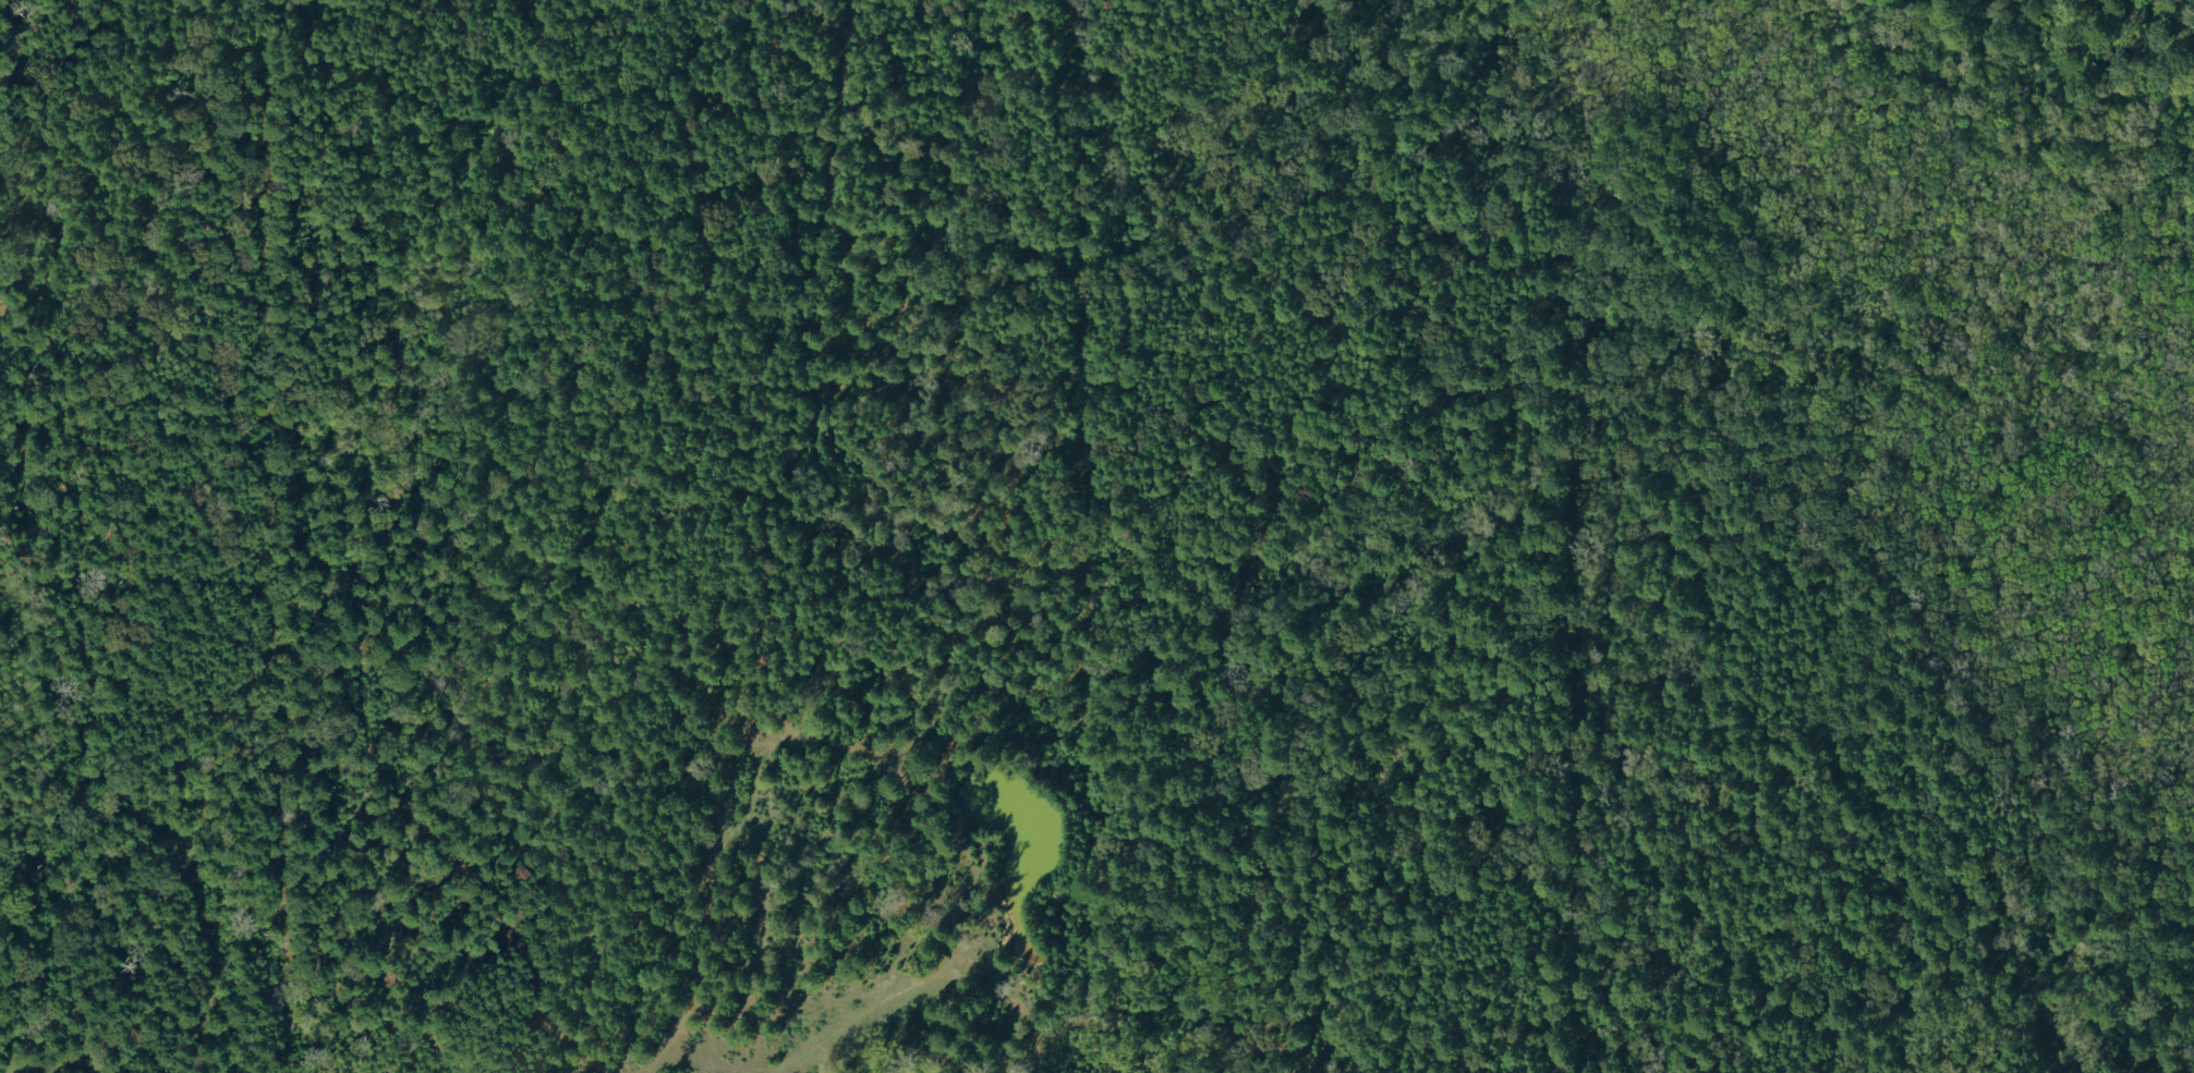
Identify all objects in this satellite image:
river: (2098, 171)

